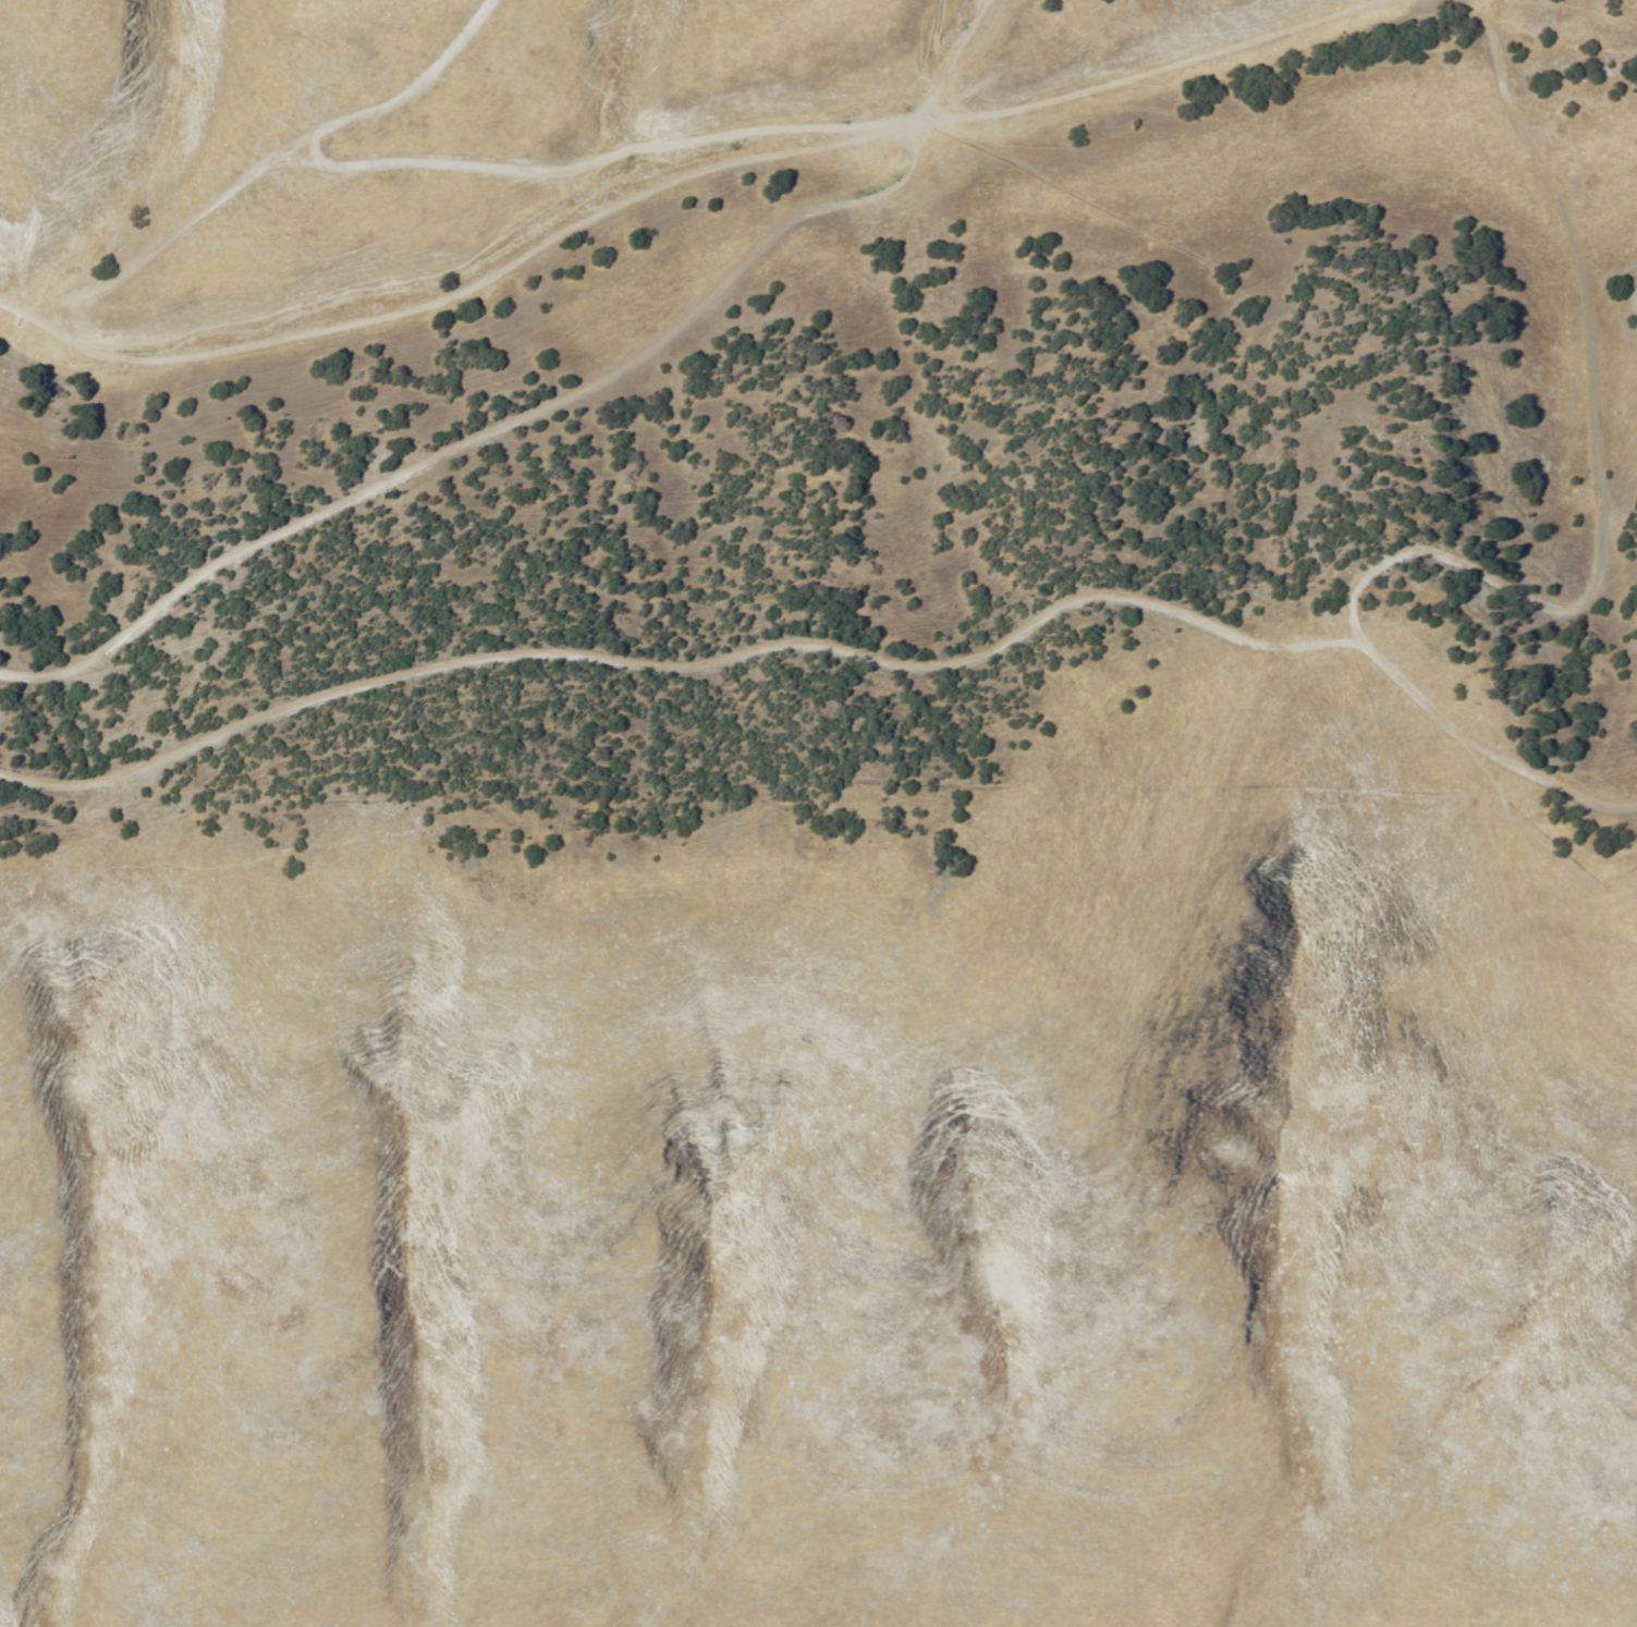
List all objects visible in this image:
road: (633, 200)
road: (699, 329)
road: (331, 331)

